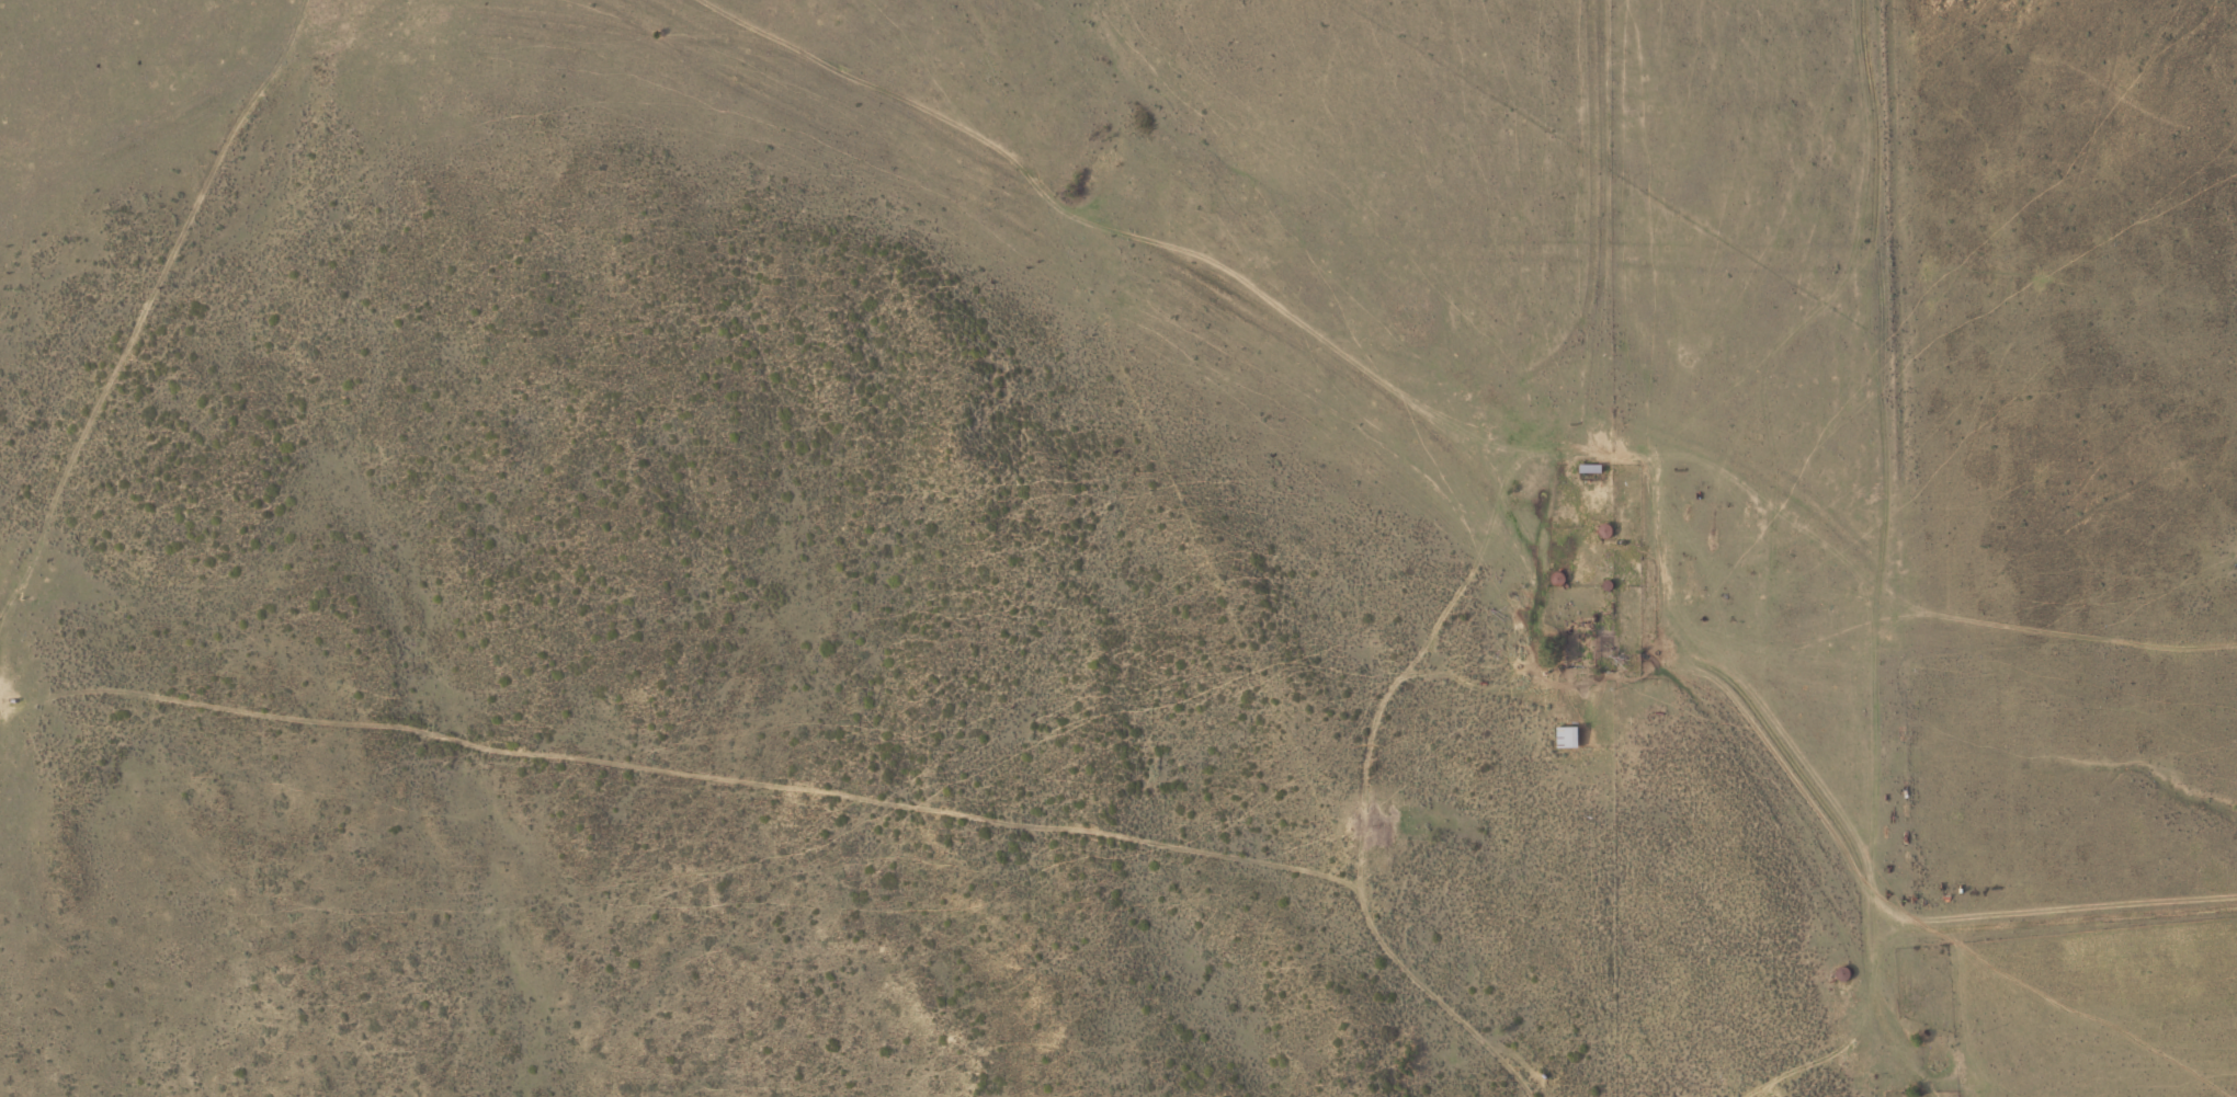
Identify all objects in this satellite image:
road: (242, 244)
building: (1593, 468)
road: (1466, 483)
building: (1608, 530)
building: (1571, 738)
road: (637, 751)
road: (1287, 809)

